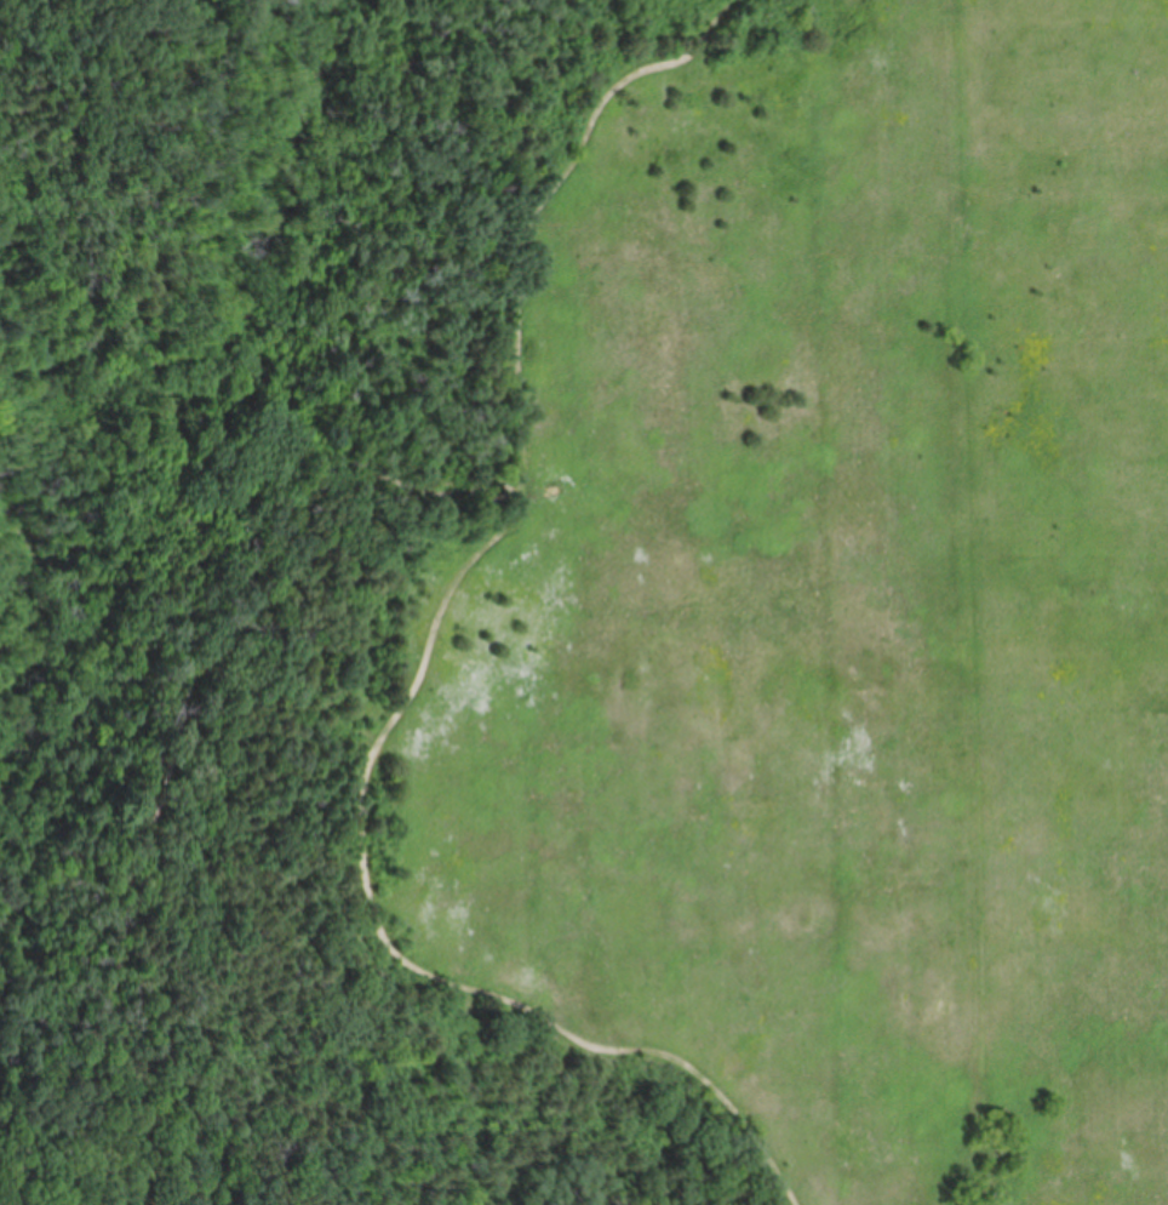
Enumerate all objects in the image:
road: (177, 15)
road: (24, 525)
park: (584, 602)
road: (423, 672)
road: (177, 746)

